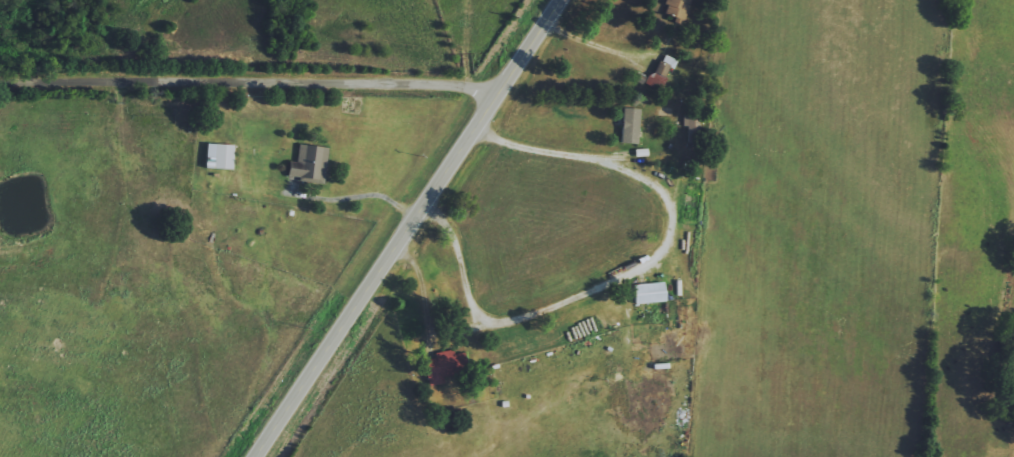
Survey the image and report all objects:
building: (677, 9)
road: (595, 45)
building: (659, 71)
road: (253, 80)
building: (628, 126)
building: (218, 155)
building: (307, 163)
road: (374, 189)
road: (407, 228)
road: (637, 267)
building: (647, 292)
building: (442, 365)

